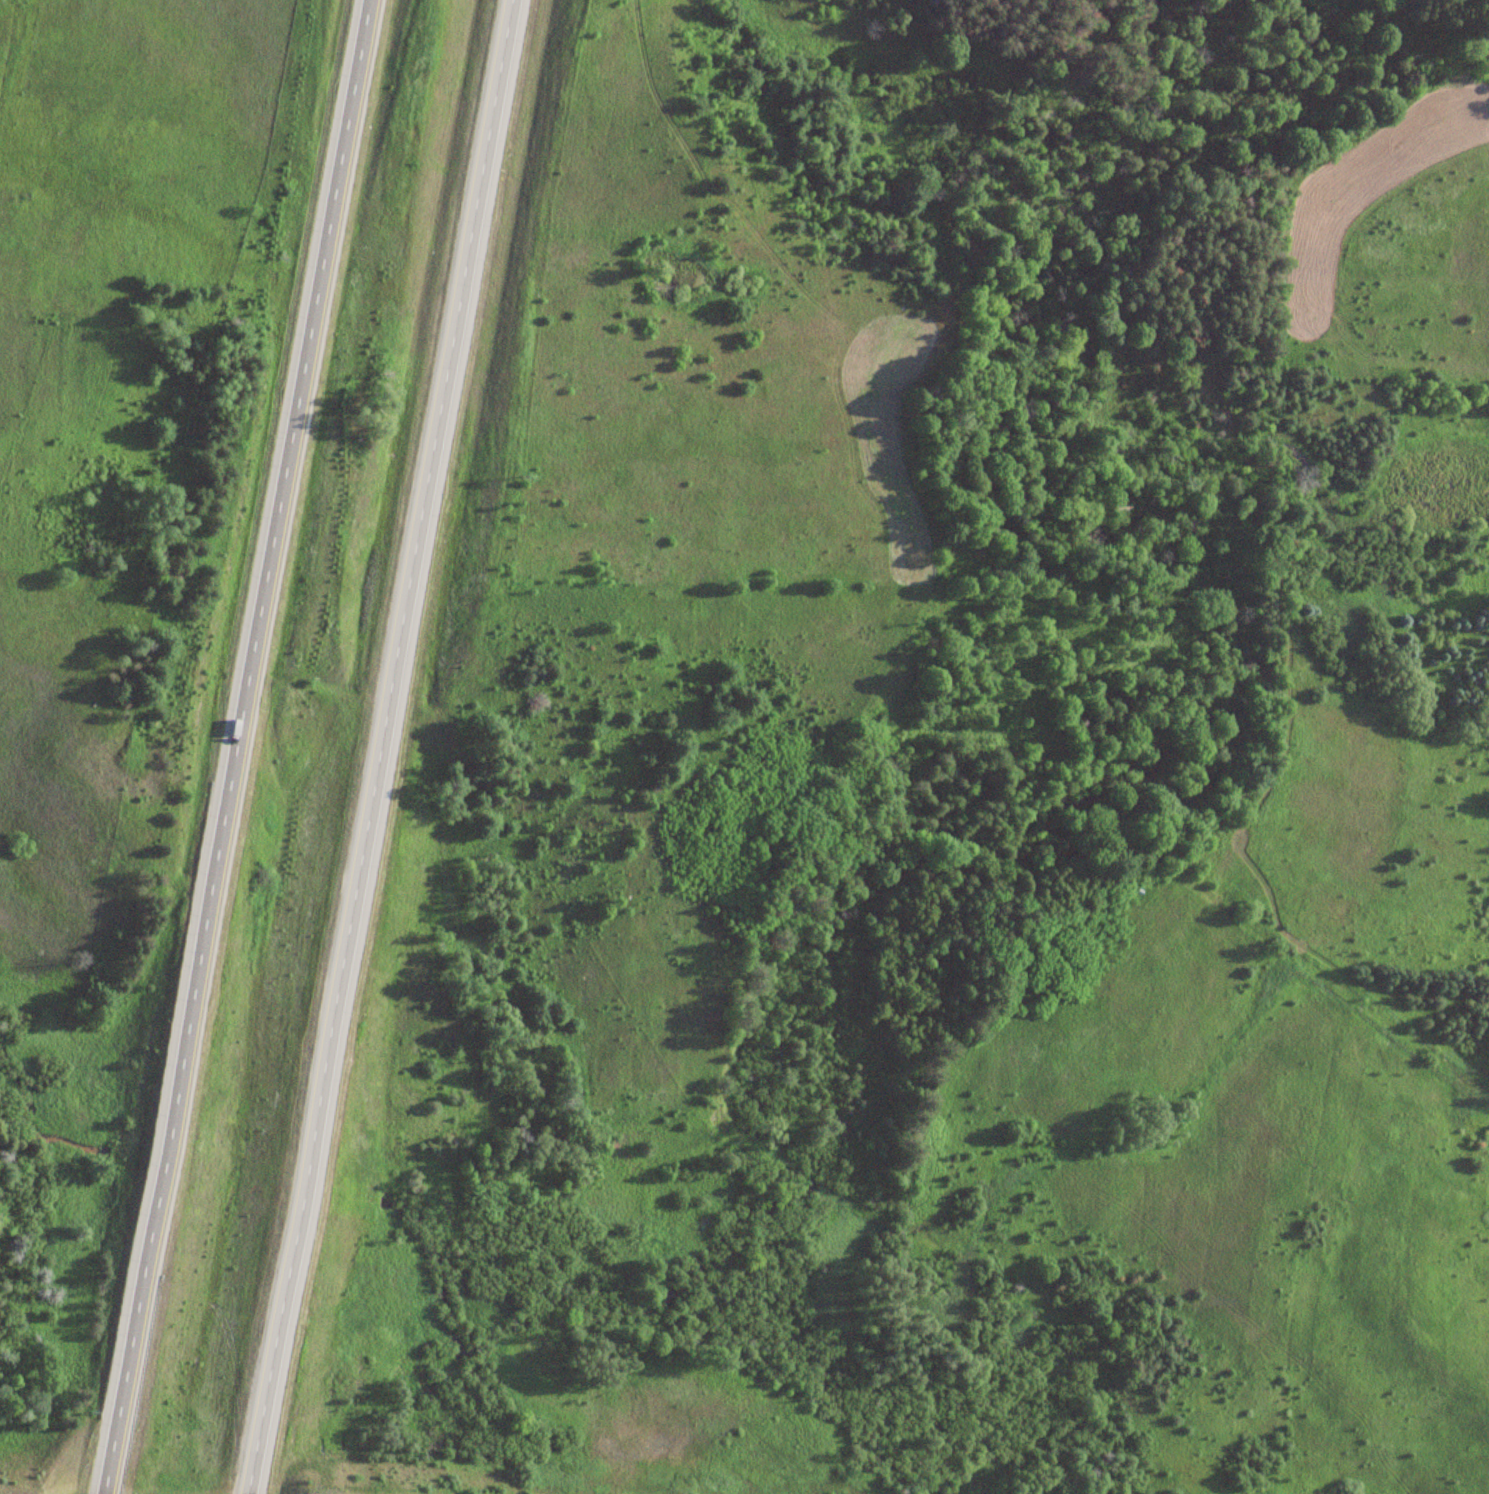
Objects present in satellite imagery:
road: (373, 746)
road: (233, 747)

